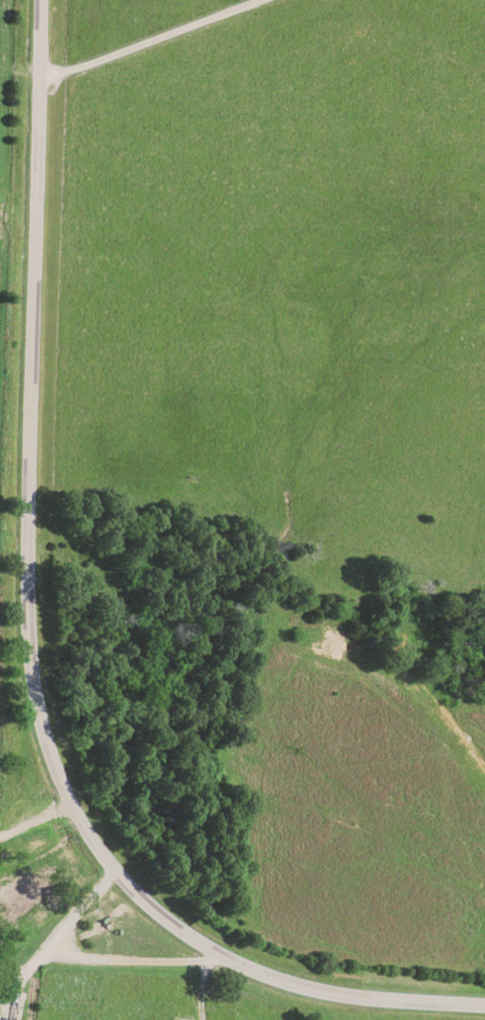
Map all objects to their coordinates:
road: (26, 650)

